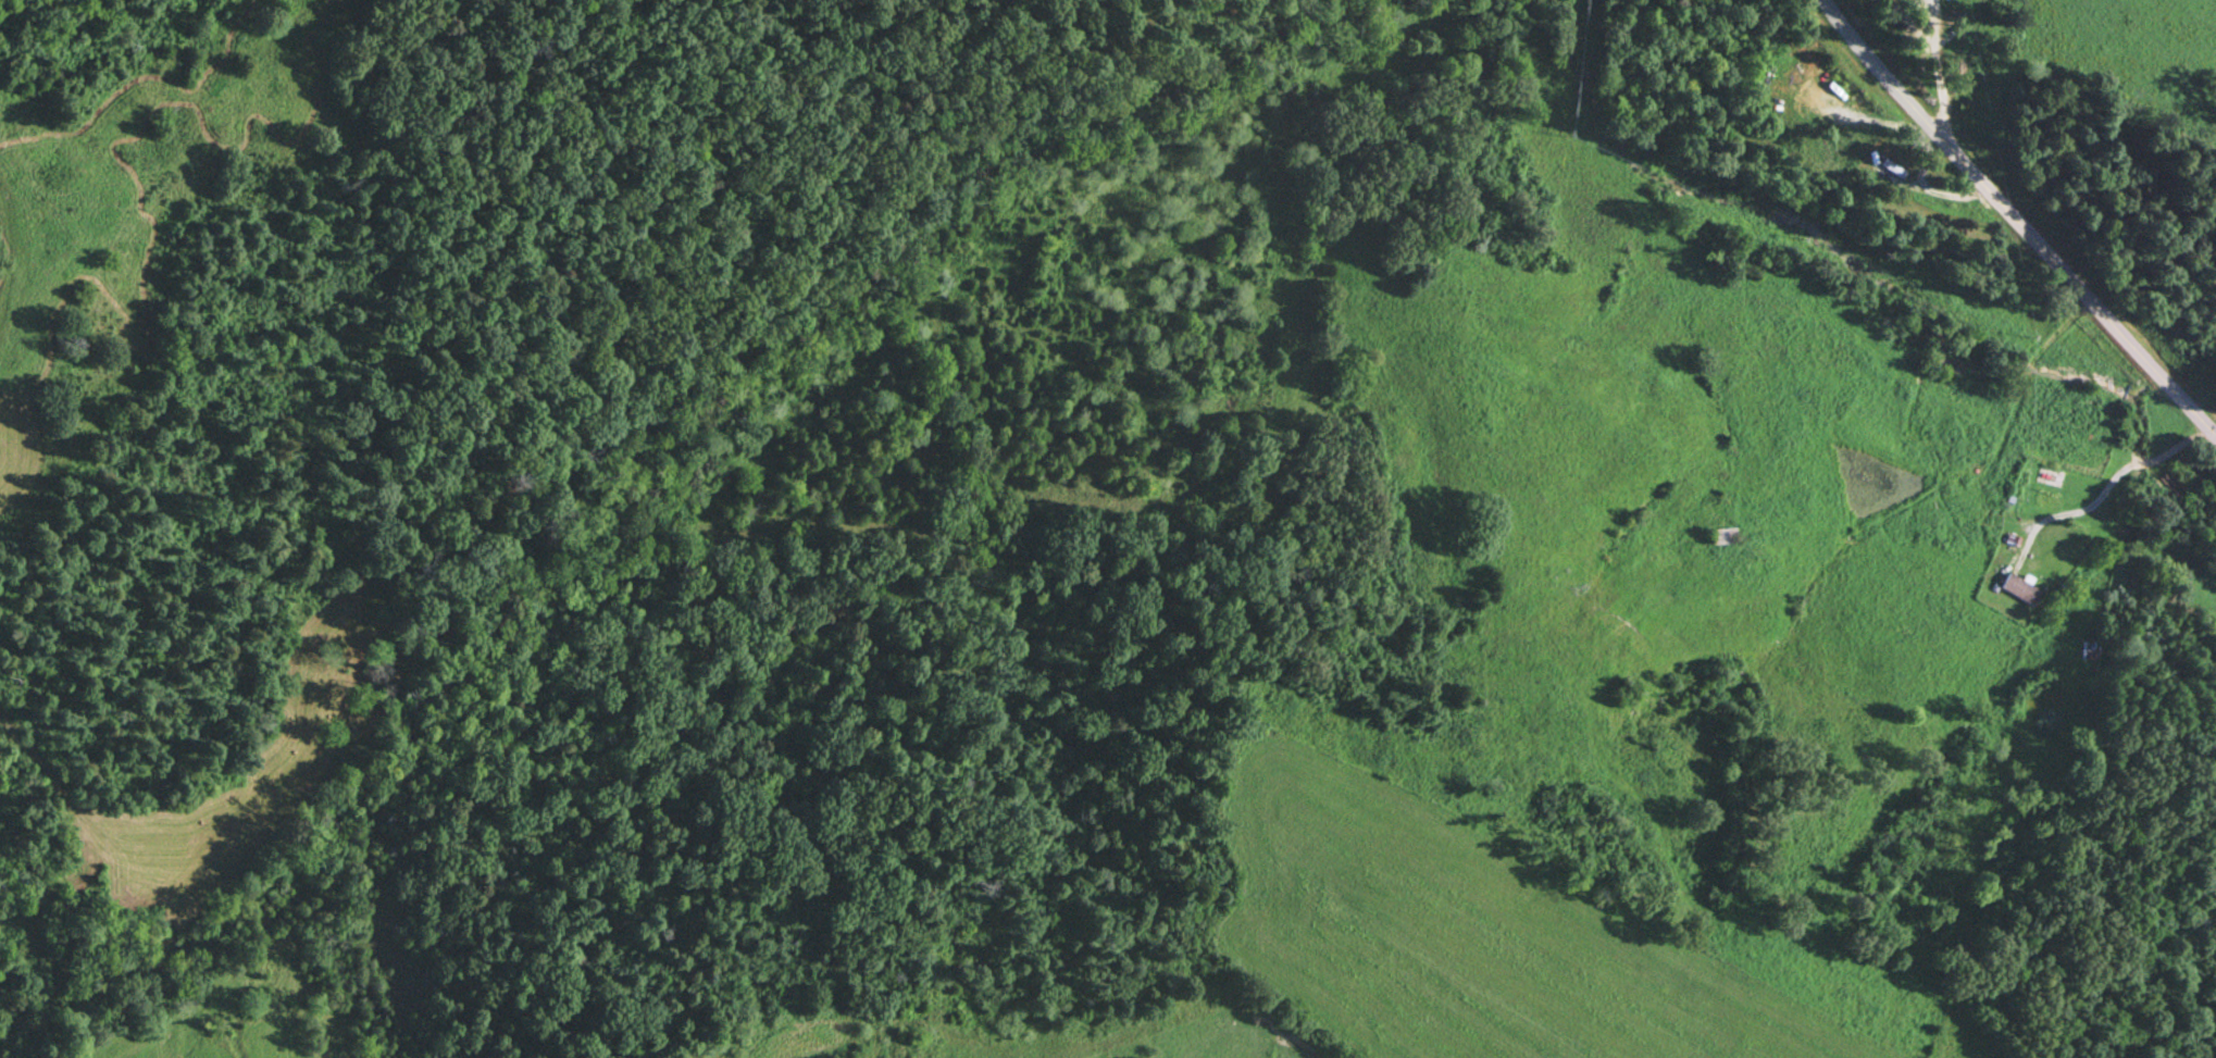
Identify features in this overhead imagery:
building: (1880, 163)
road: (2012, 223)
road: (2118, 468)
building: (1721, 535)
building: (2018, 588)

